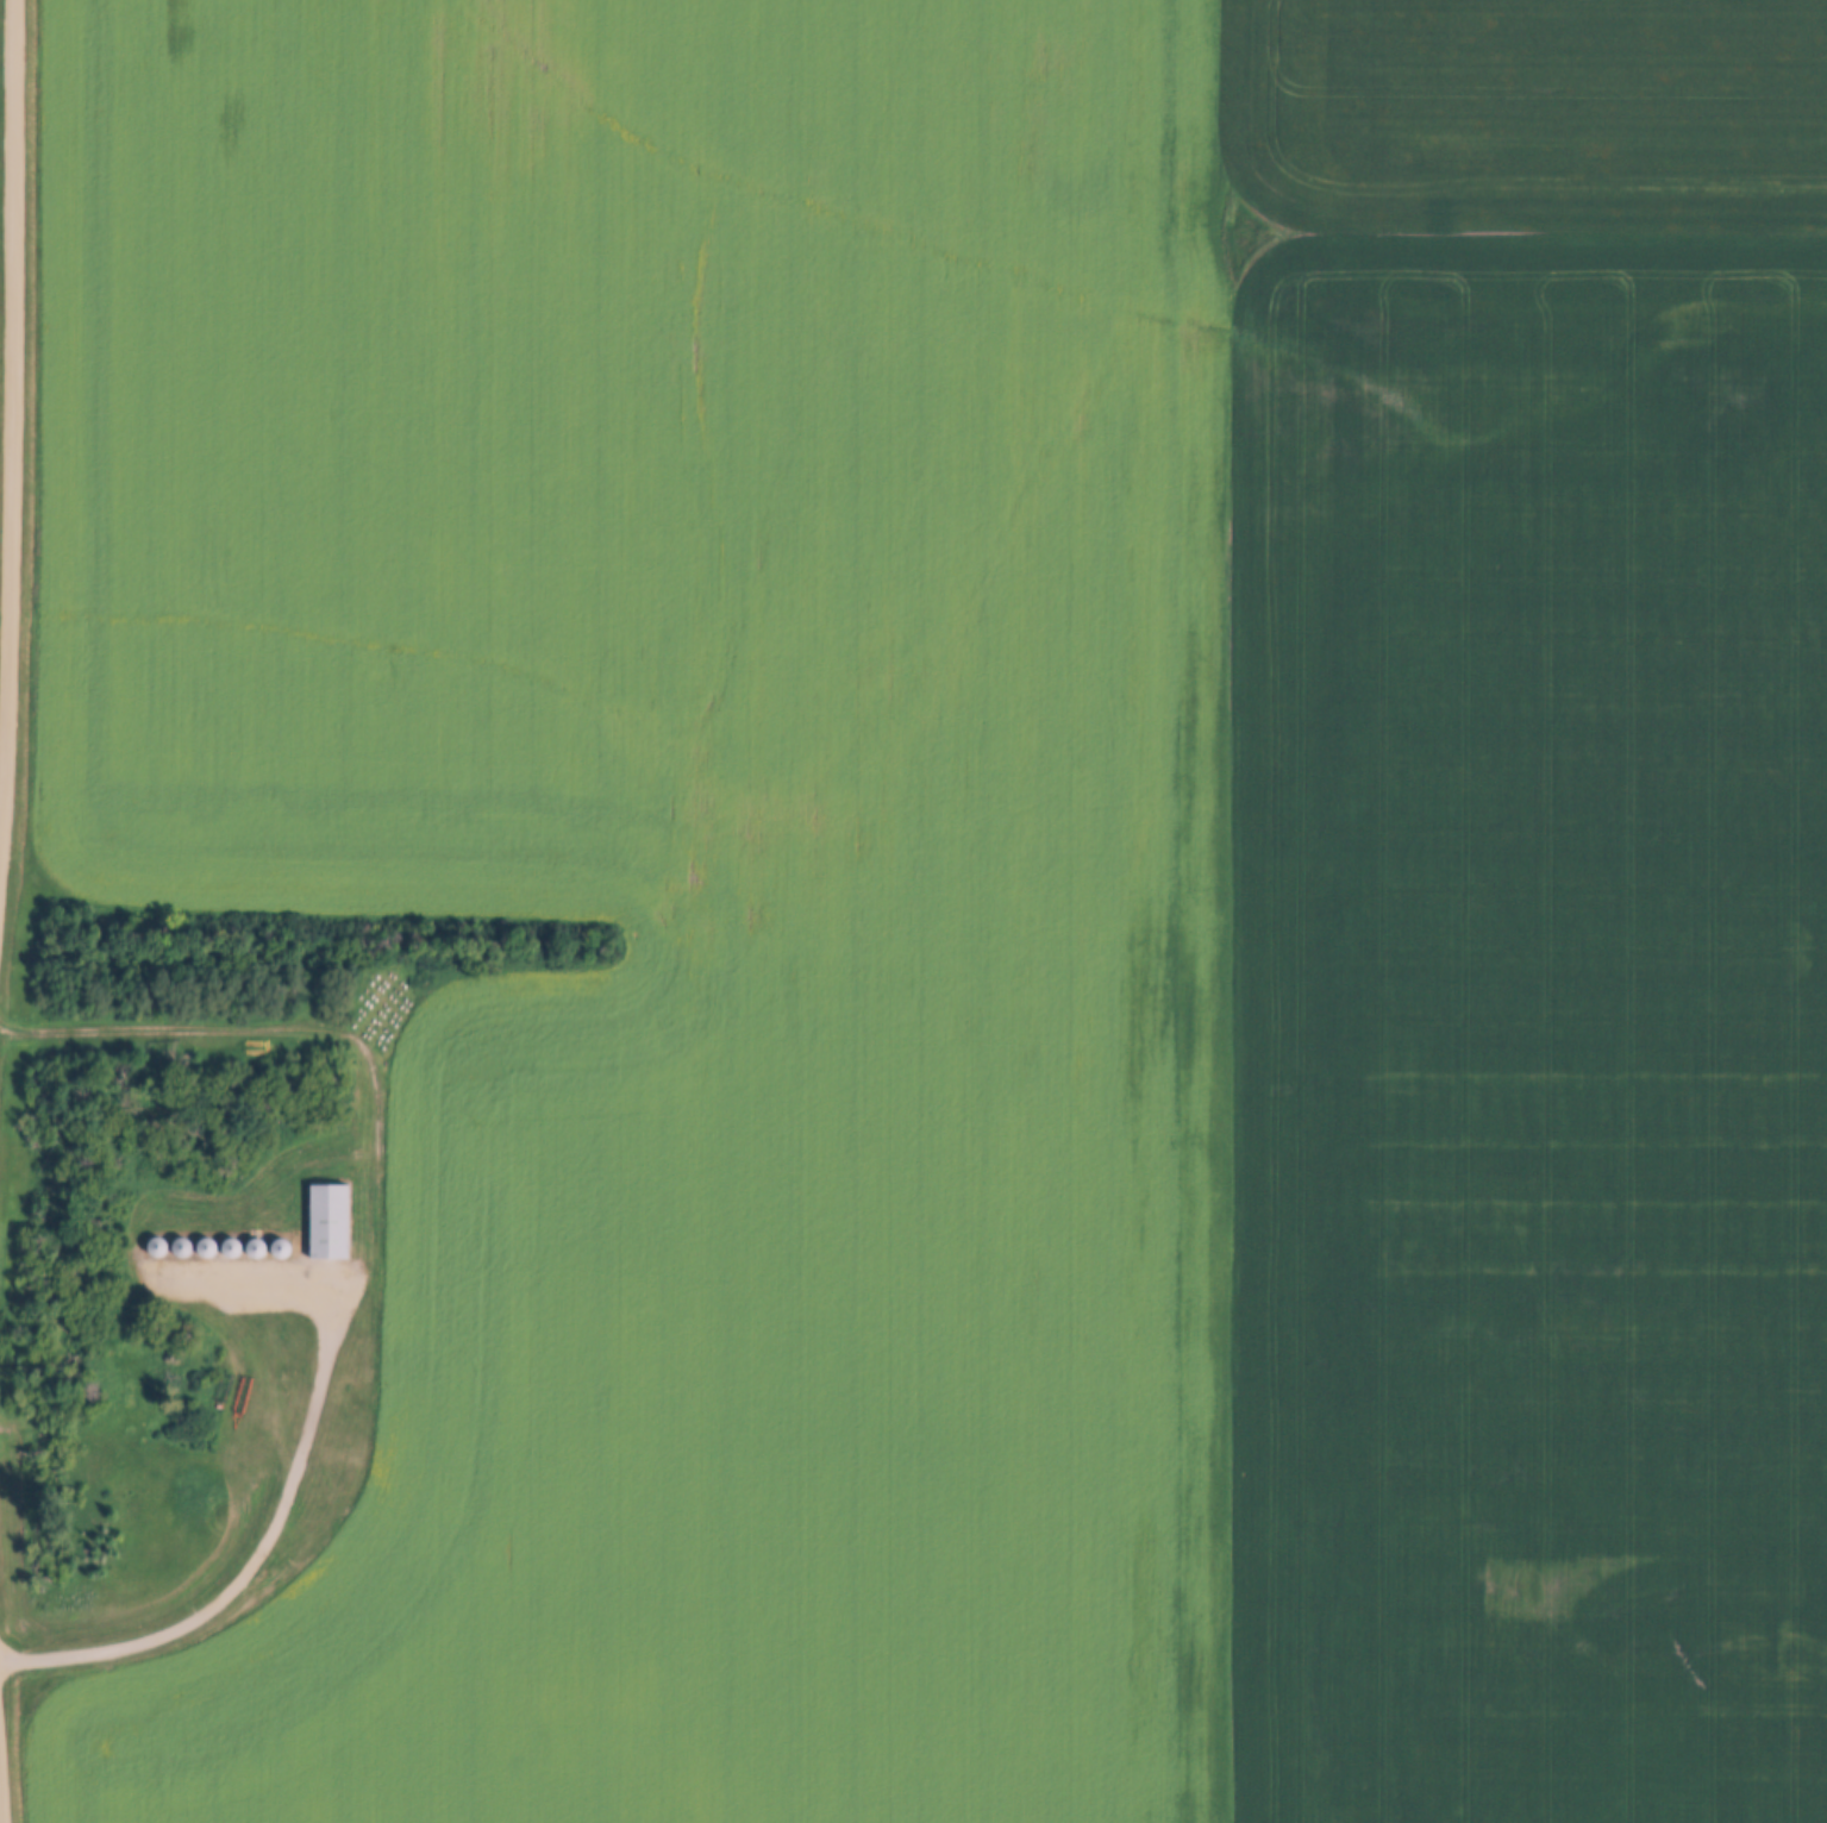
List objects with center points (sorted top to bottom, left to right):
road: (21, 450)
road: (315, 1022)
building: (329, 1222)
road: (304, 1460)
road: (5, 1775)

